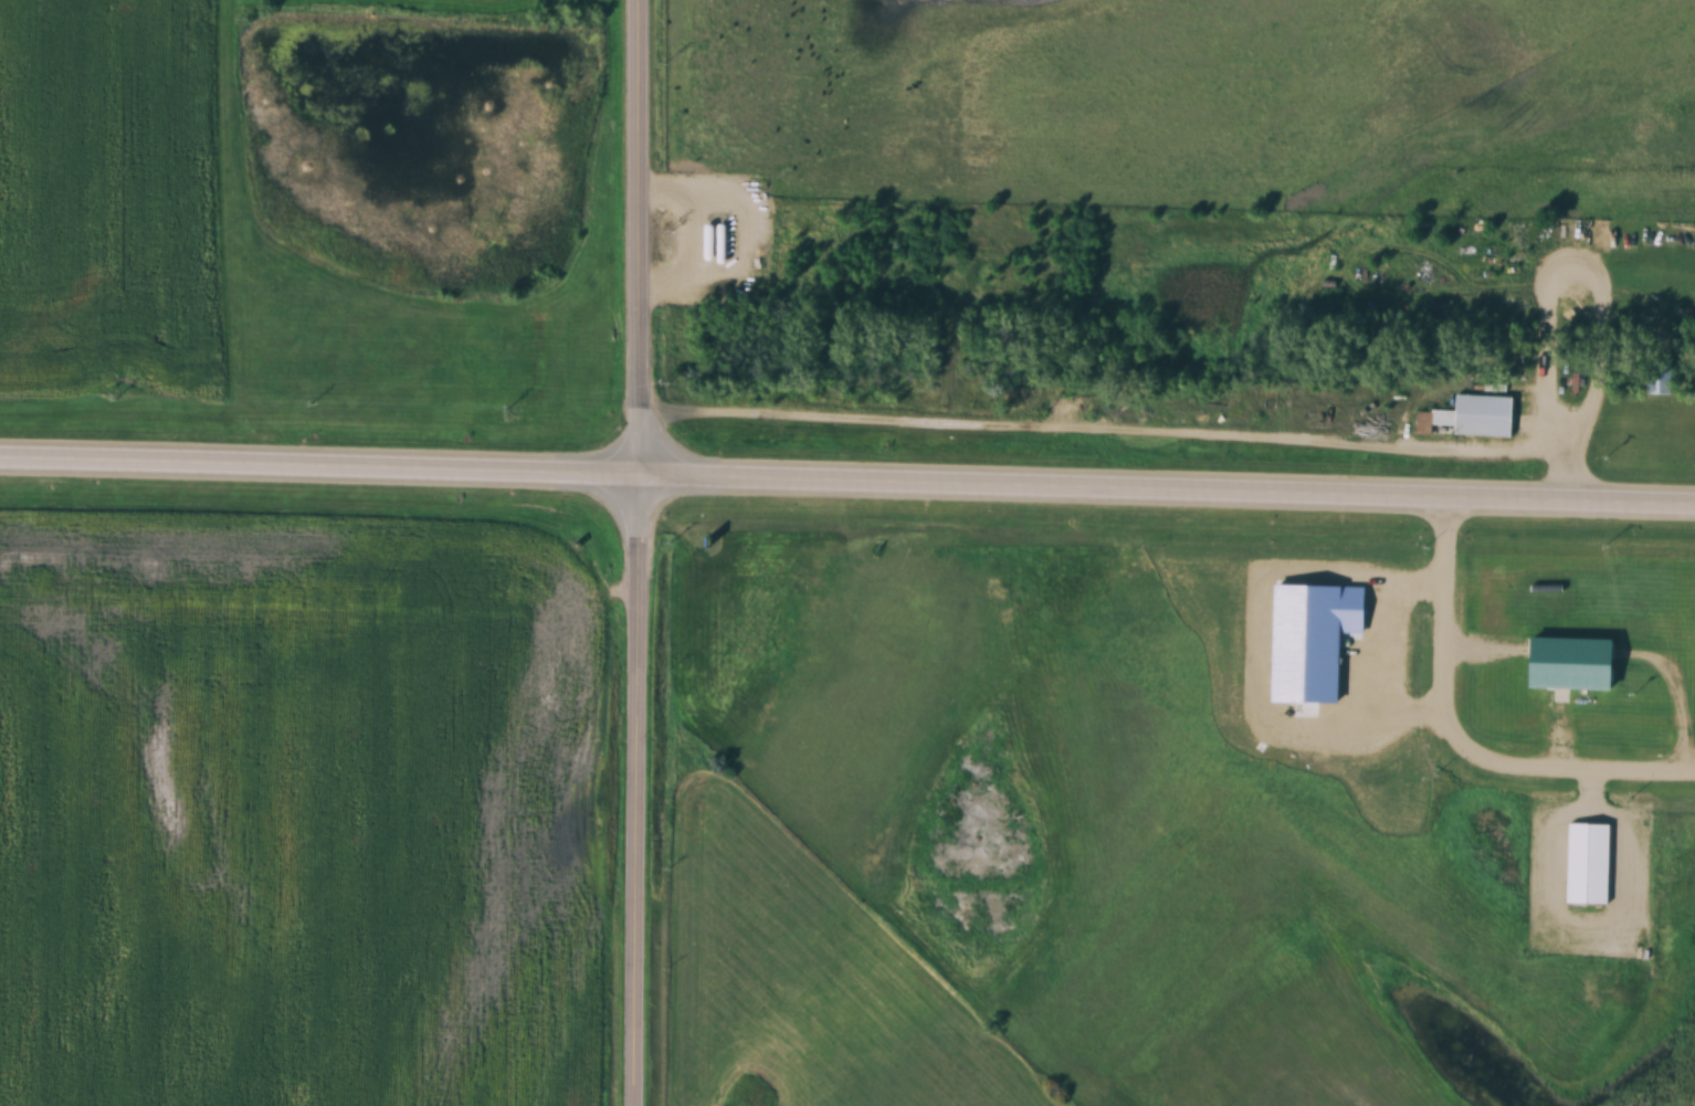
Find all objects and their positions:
building: (722, 244)
building: (1576, 375)
building: (1662, 378)
building: (1473, 417)
road: (821, 477)
road: (1668, 506)
road: (634, 552)
road: (1460, 736)
airport: (1236, 781)
building: (1589, 863)
airport runway: (1265, 1057)

